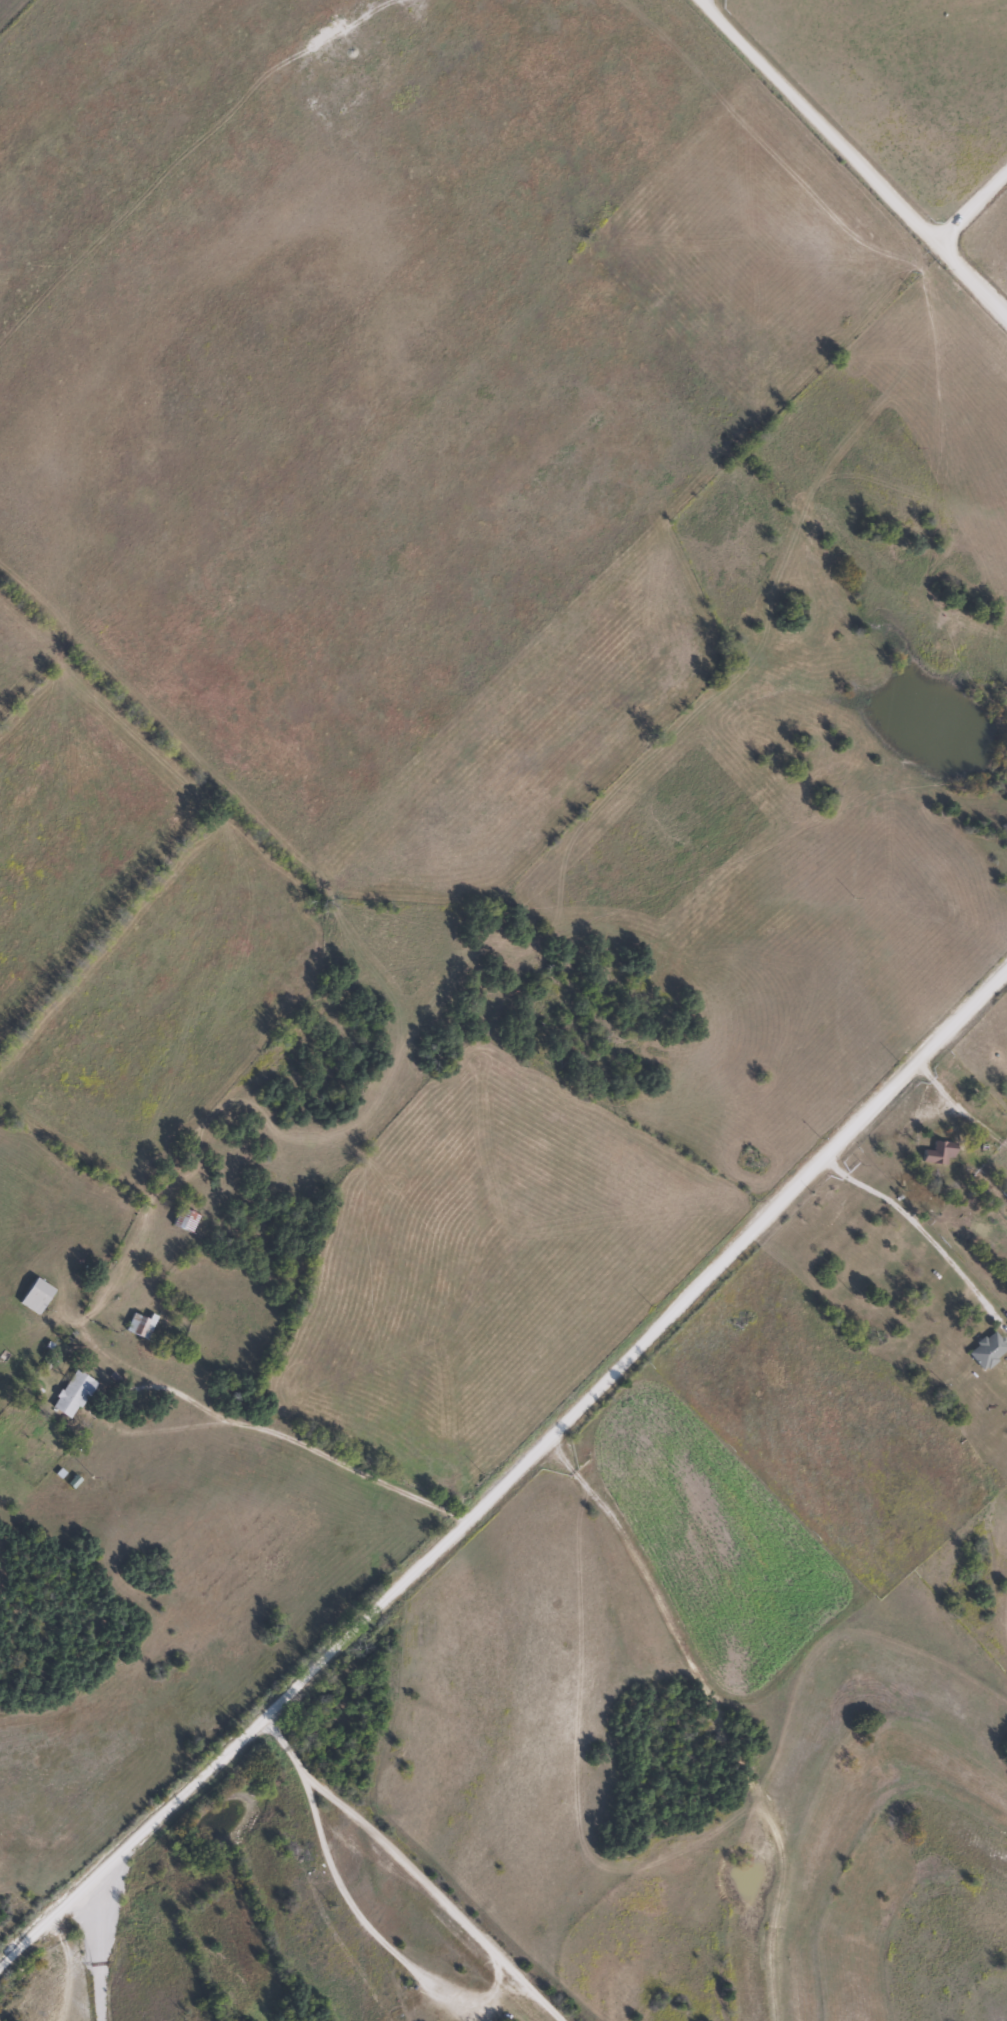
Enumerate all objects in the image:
road: (848, 159)
road: (967, 280)
building: (940, 1153)
building: (920, 1190)
road: (910, 1219)
building: (185, 1221)
building: (37, 1295)
building: (140, 1324)
building: (988, 1350)
road: (163, 1367)
building: (74, 1393)
road: (339, 1452)
road: (503, 1464)
road: (406, 1869)
road: (97, 1948)

